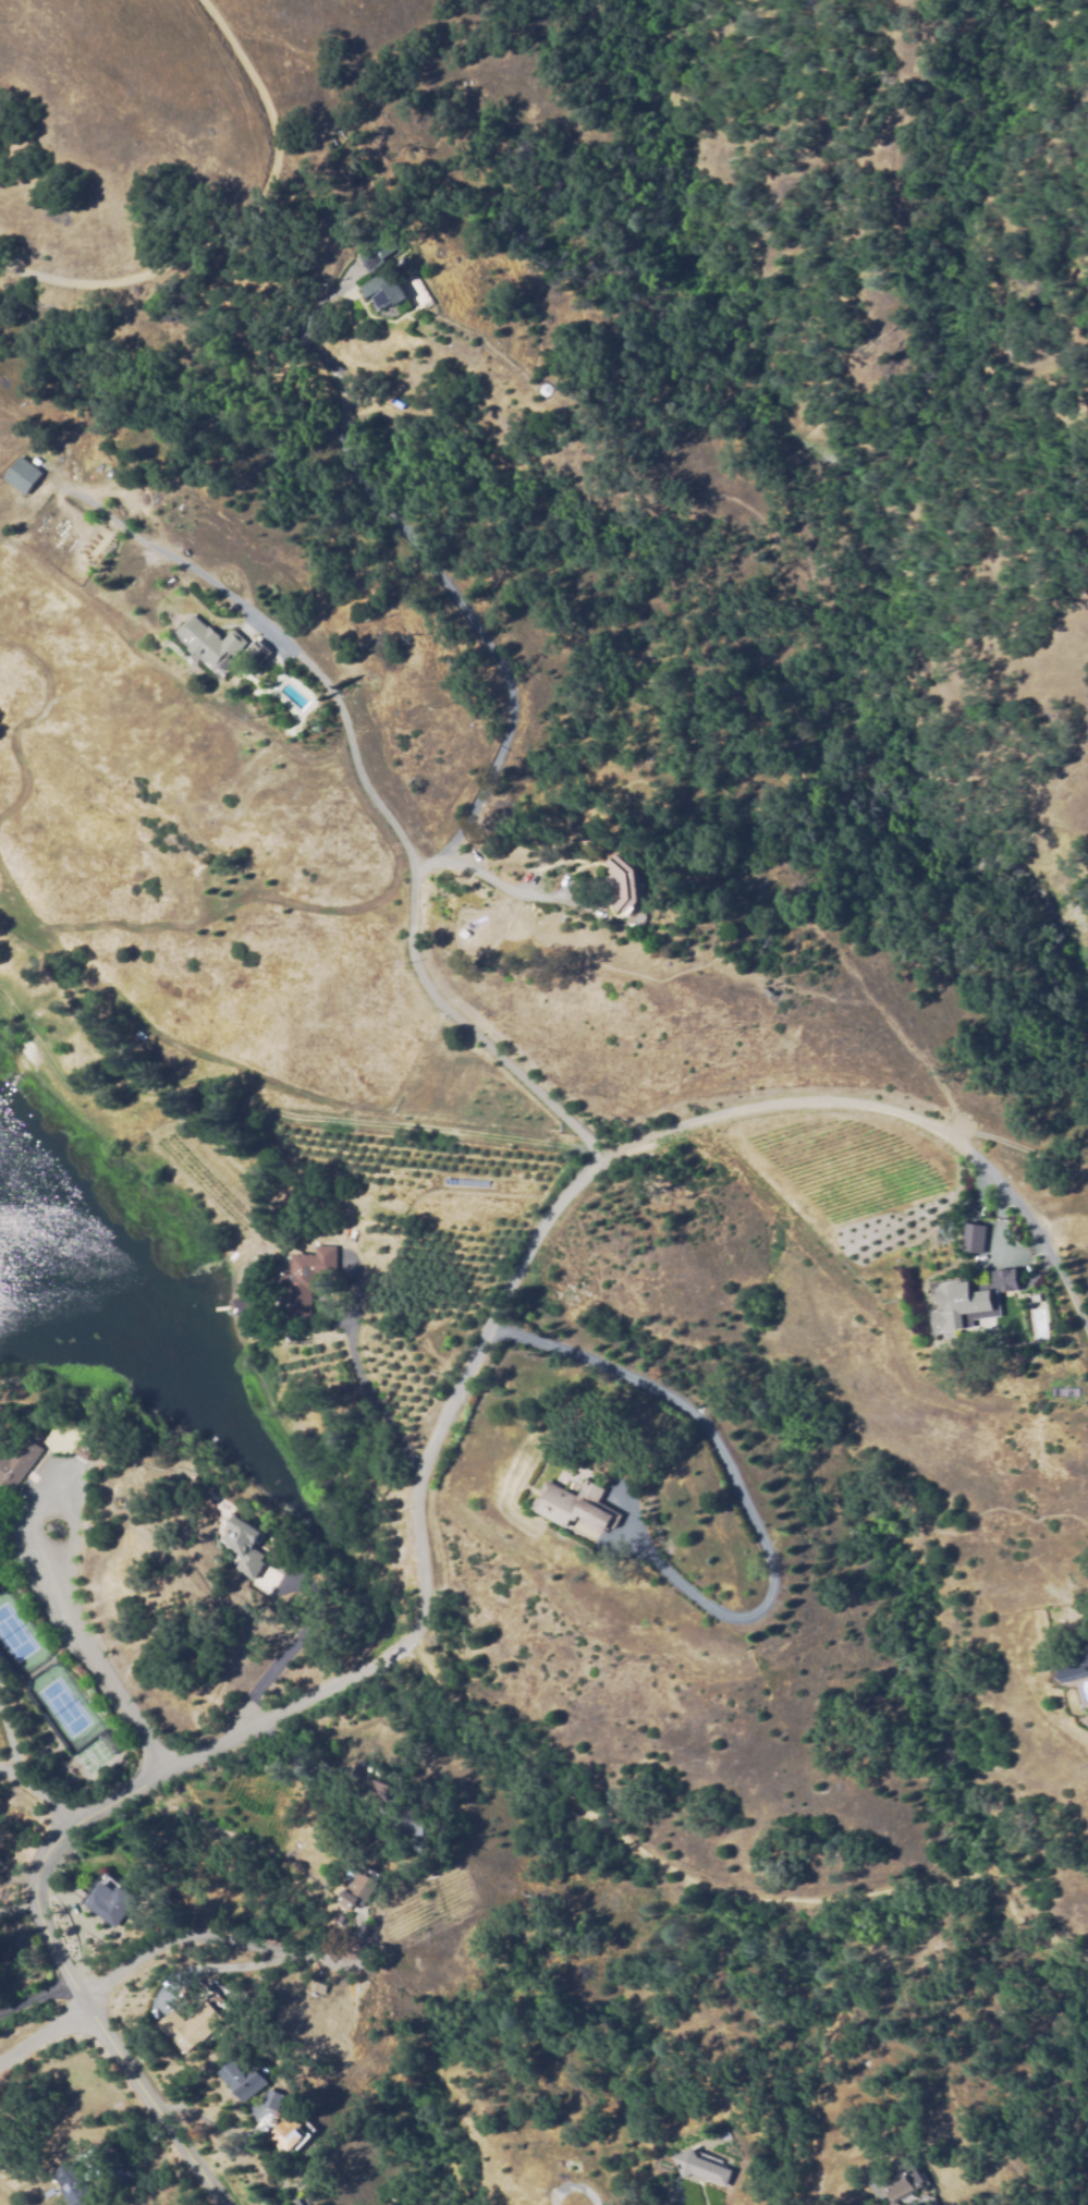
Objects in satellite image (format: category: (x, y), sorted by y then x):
building: (367, 256)
building: (383, 290)
building: (25, 473)
building: (209, 642)
building: (259, 653)
building: (625, 884)
building: (976, 1239)
building: (1004, 1279)
building: (305, 1280)
building: (957, 1304)
building: (80, 1451)
building: (19, 1464)
road: (412, 1488)
building: (576, 1507)
building: (240, 1546)
road: (113, 1646)
building: (1073, 1668)
building: (108, 1741)
building: (375, 1784)
road: (37, 1793)
building: (415, 1827)
building: (357, 1888)
building: (107, 1904)
road: (219, 1946)
building: (319, 1987)
building: (192, 2026)
road: (44, 2036)
building: (243, 2081)
building: (273, 2099)
building: (291, 2136)
building: (701, 2166)
building: (895, 2181)
building: (76, 2185)
building: (297, 2203)
building: (894, 2203)

